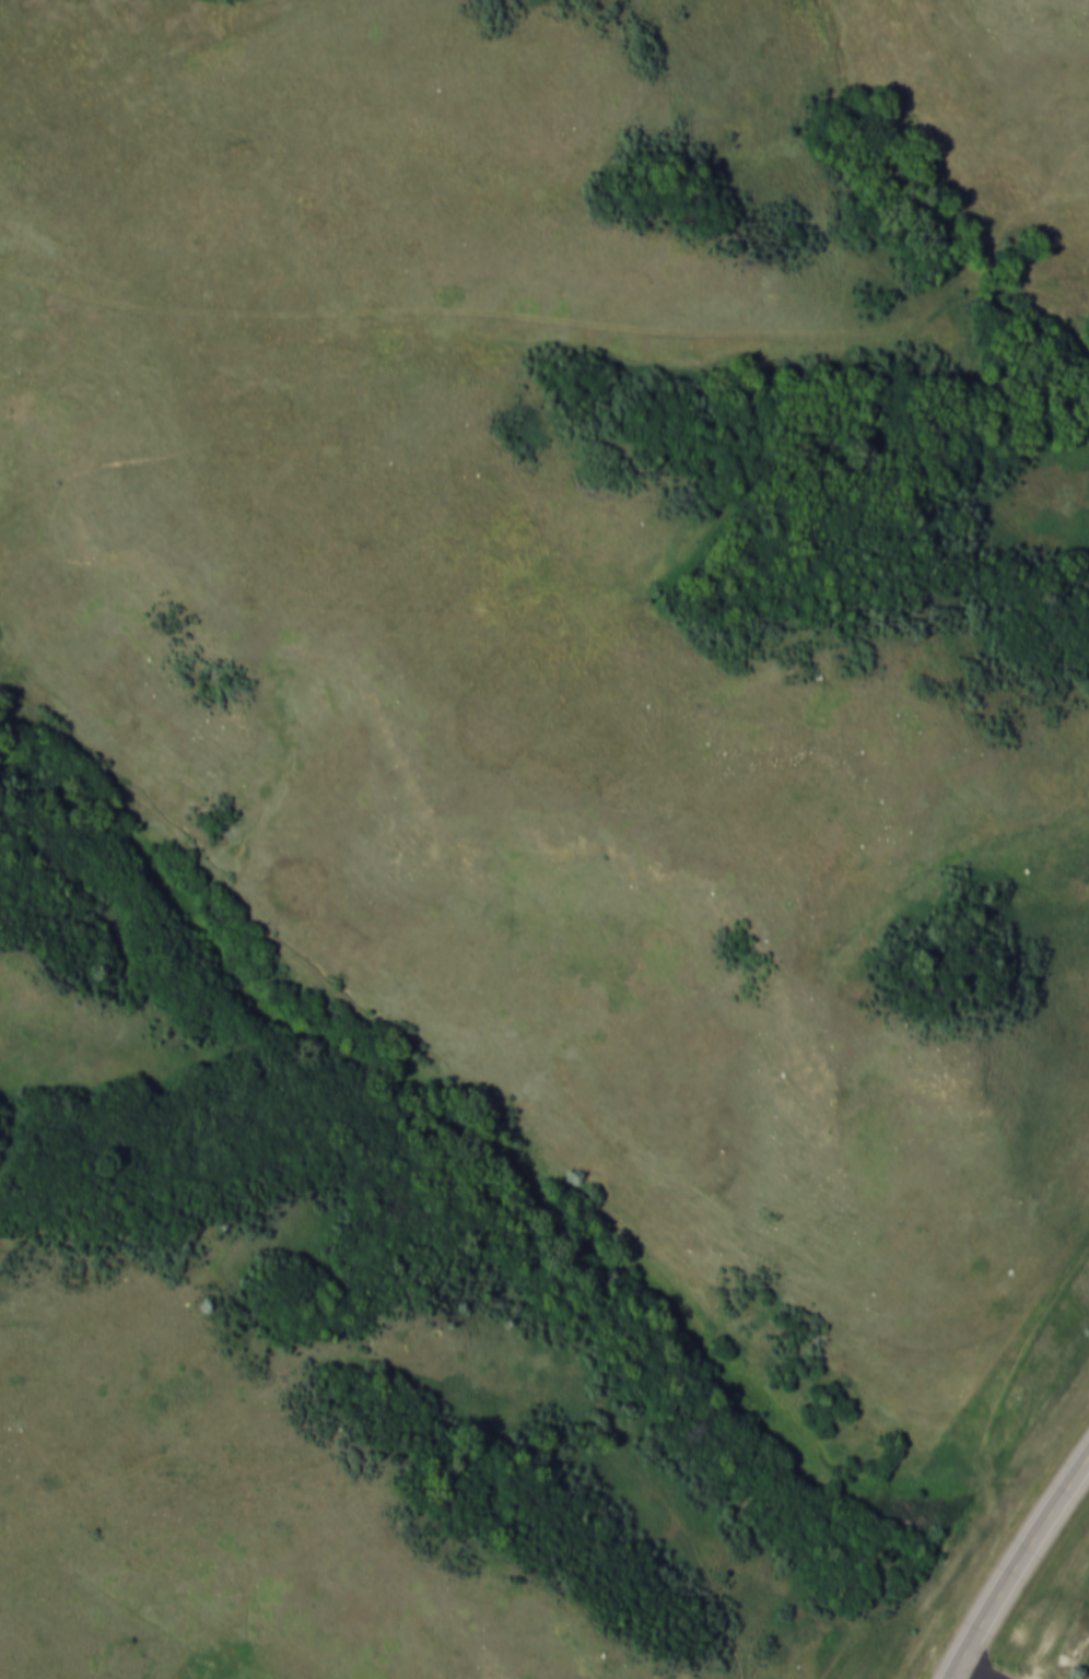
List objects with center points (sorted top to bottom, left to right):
road: (1012, 1570)
road: (974, 1666)

